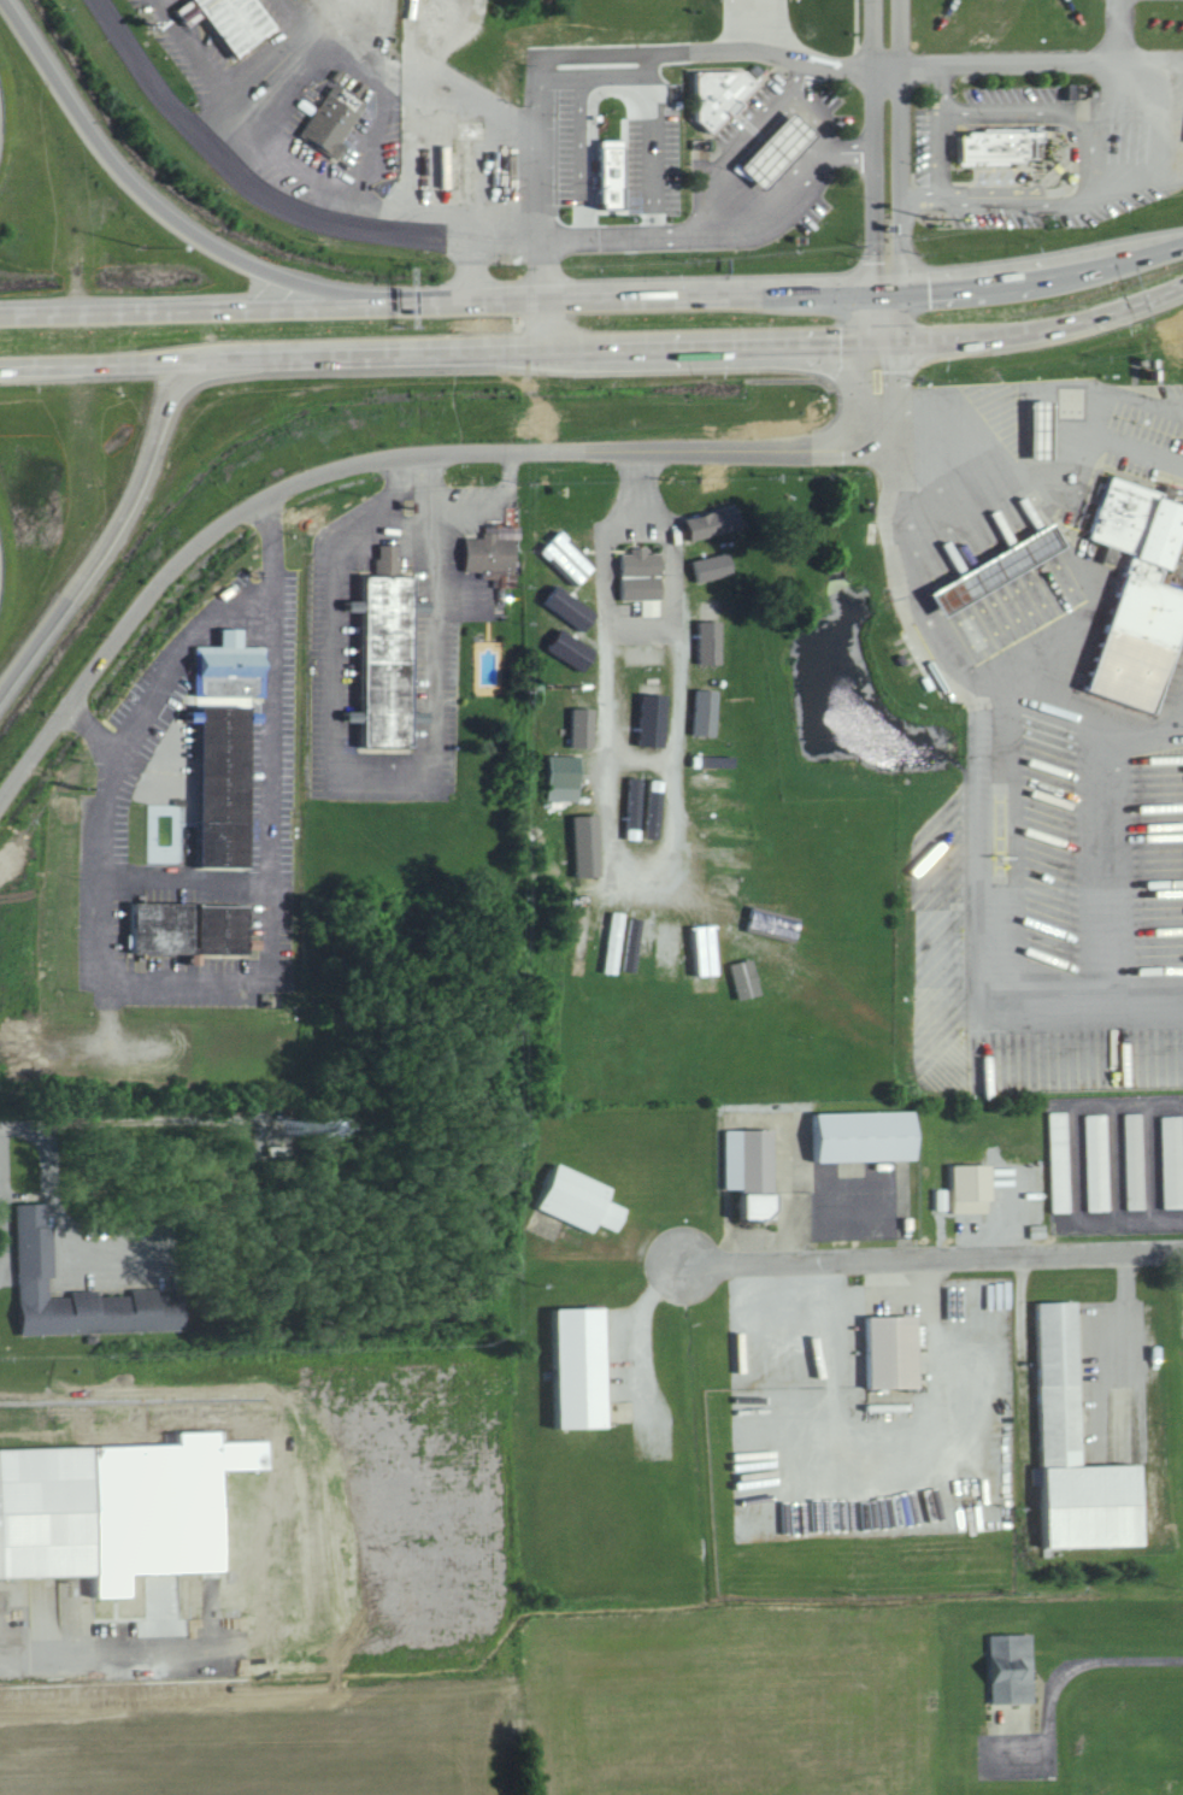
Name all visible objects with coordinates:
building: (242, 22)
road: (1117, 30)
building: (719, 84)
building: (328, 108)
road: (1150, 119)
building: (990, 135)
gas station: (773, 137)
road: (871, 148)
building: (784, 149)
road: (900, 151)
building: (618, 172)
road: (275, 200)
road: (160, 211)
road: (736, 233)
road: (543, 271)
road: (472, 273)
road: (594, 301)
road: (547, 324)
road: (595, 346)
road: (879, 365)
gas station: (1038, 422)
road: (847, 445)
road: (334, 469)
building: (719, 522)
road: (111, 534)
road: (273, 540)
building: (499, 553)
building: (573, 557)
gas station: (994, 559)
building: (718, 566)
building: (1004, 569)
building: (646, 578)
building: (1137, 581)
building: (575, 607)
building: (708, 622)
building: (577, 649)
building: (394, 653)
building: (652, 653)
building: (367, 659)
building: (235, 666)
building: (711, 711)
building: (657, 712)
building: (587, 726)
building: (722, 760)
building: (569, 776)
building: (717, 779)
building: (230, 785)
building: (730, 805)
building: (742, 830)
building: (591, 844)
building: (737, 855)
building: (731, 883)
building: (196, 928)
building: (673, 948)
building: (808, 965)
road: (196, 988)
building: (869, 1135)
road: (42, 1137)
building: (1063, 1160)
building: (1137, 1160)
building: (1173, 1160)
building: (1100, 1161)
building: (757, 1169)
building: (977, 1188)
building: (587, 1200)
road: (935, 1261)
building: (86, 1291)
building: (899, 1350)
building: (587, 1367)
building: (1083, 1452)
building: (51, 1512)
road: (1082, 1552)
road: (36, 1655)
building: (1017, 1667)
road: (1060, 1682)

